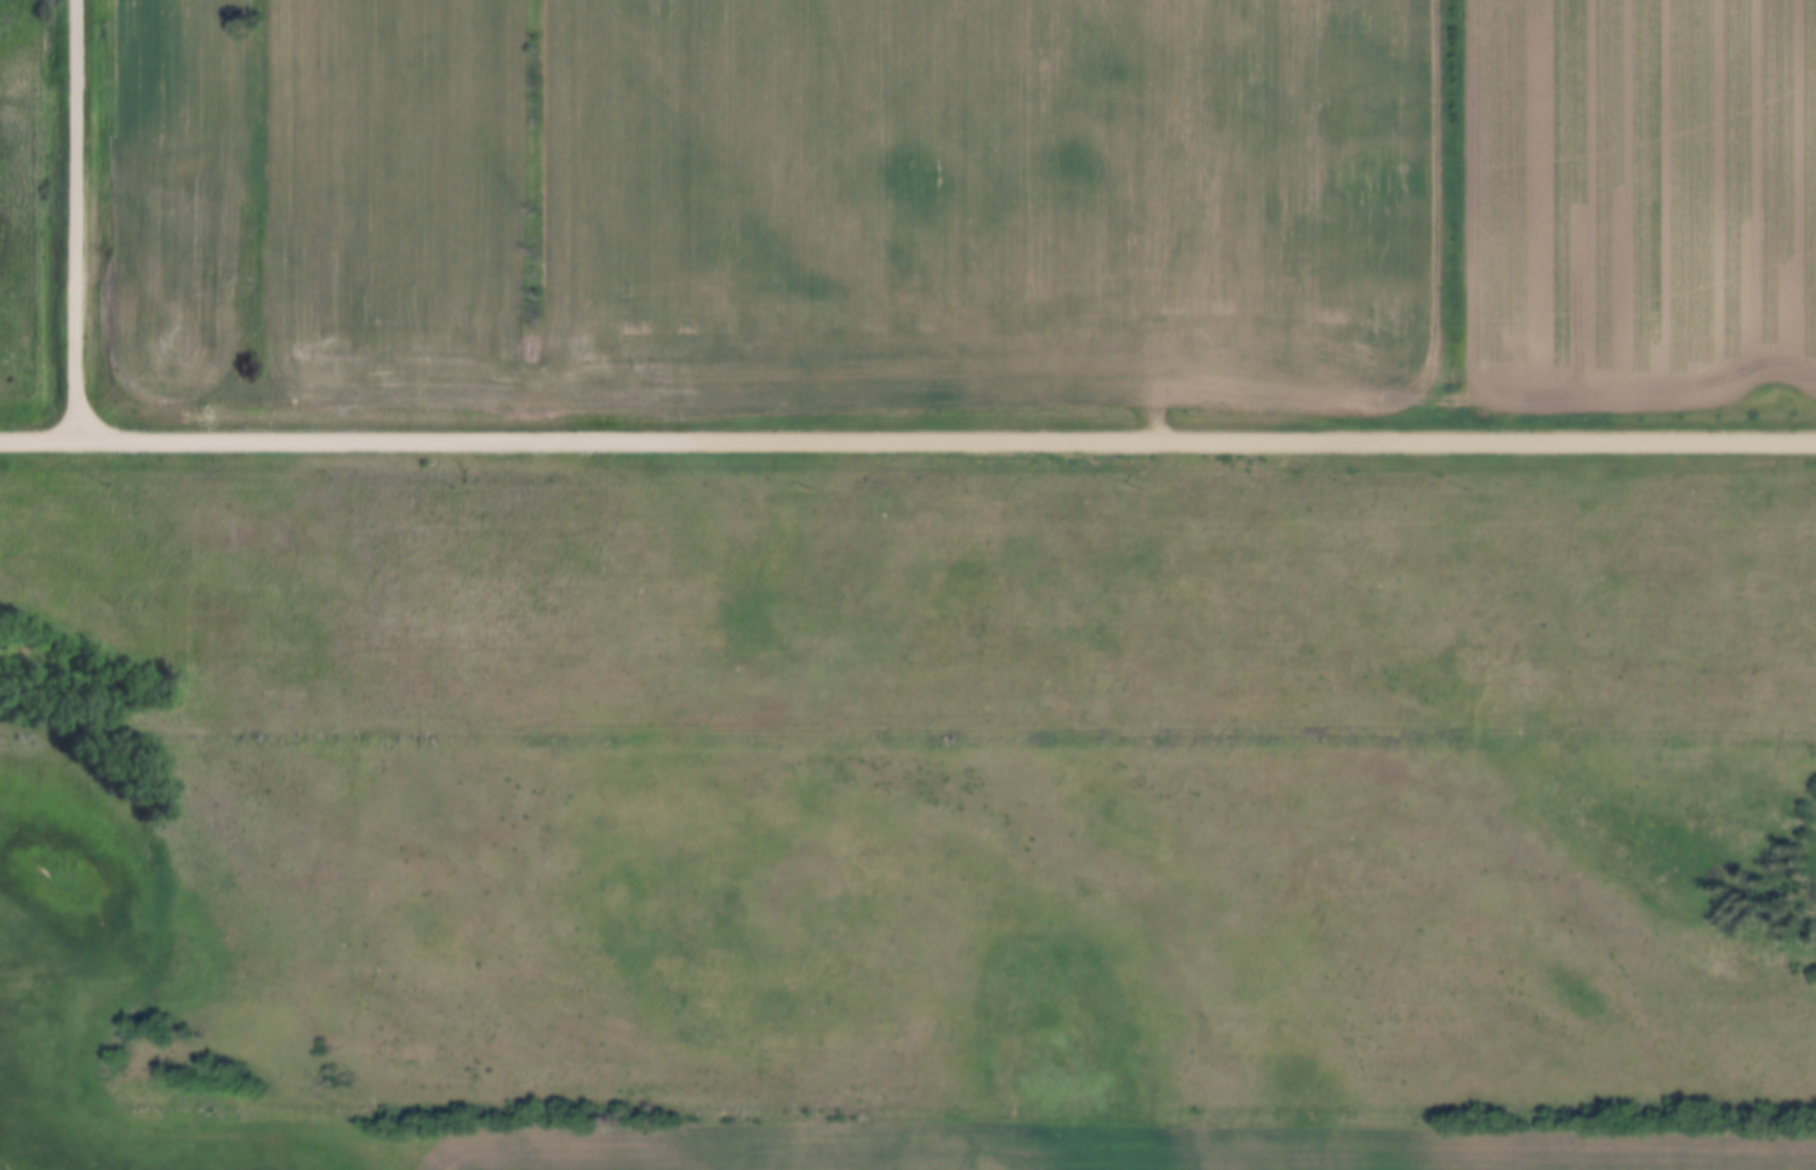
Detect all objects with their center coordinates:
road: (80, 219)
road: (907, 440)

